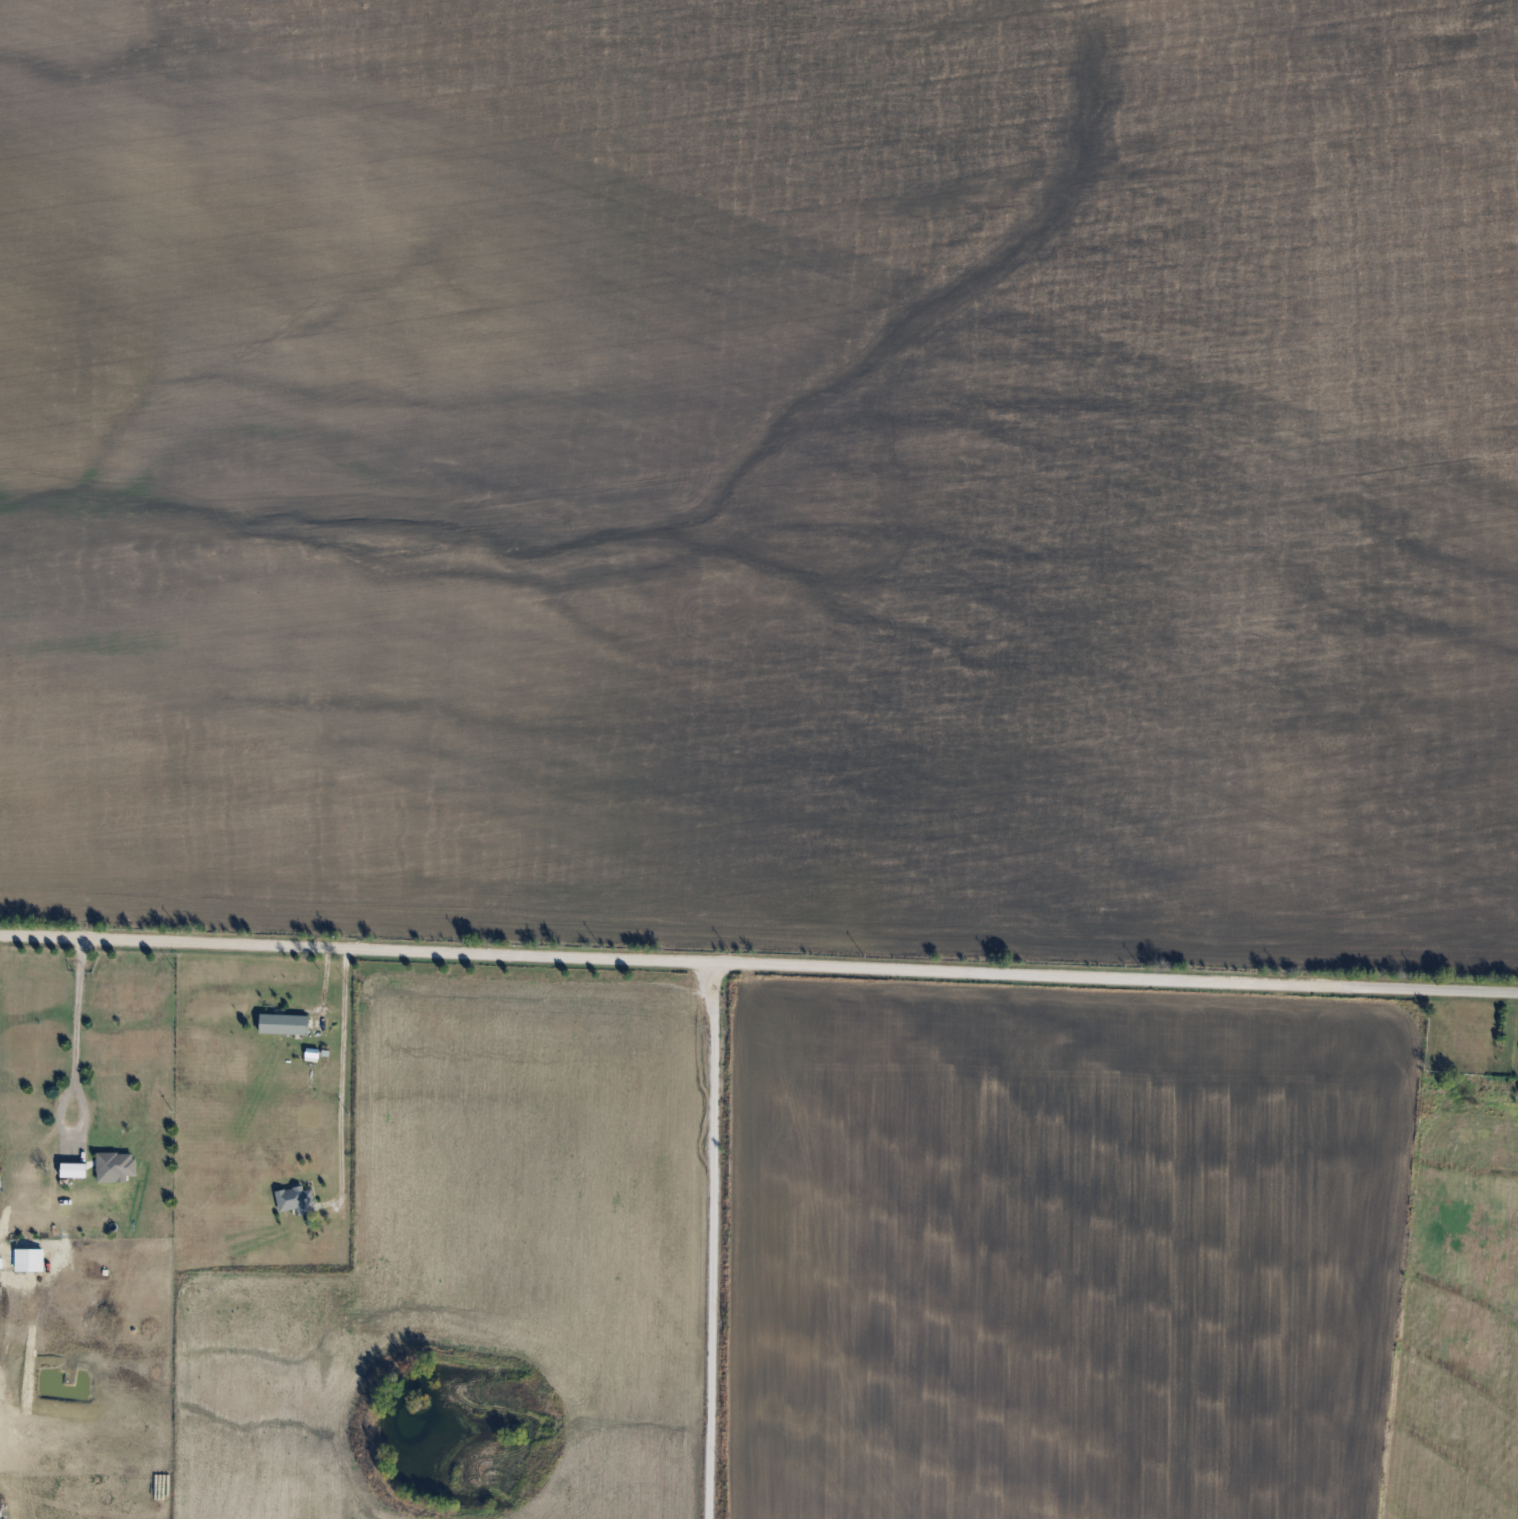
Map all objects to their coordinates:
road: (758, 963)
road: (80, 1011)
building: (281, 1023)
building: (316, 1025)
road: (343, 1074)
building: (114, 1163)
building: (70, 1170)
building: (294, 1199)
road: (715, 1240)
building: (39, 1256)

